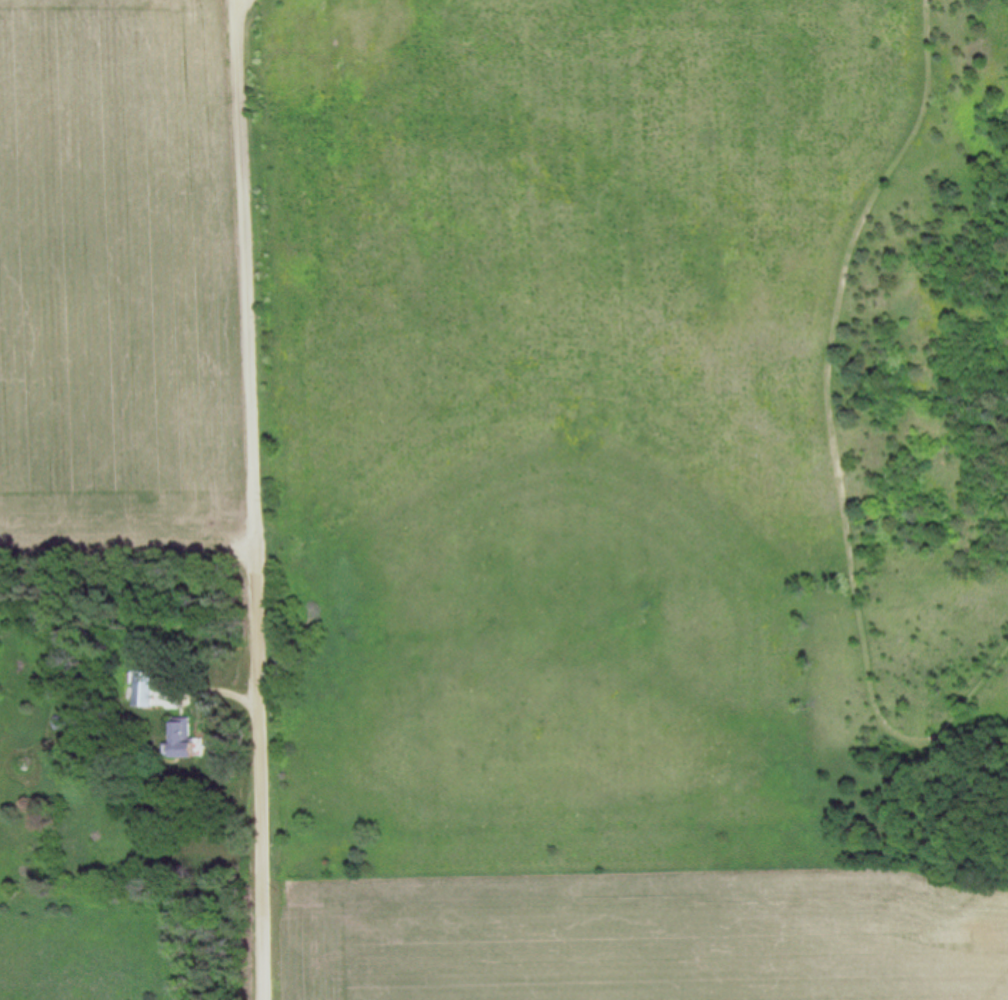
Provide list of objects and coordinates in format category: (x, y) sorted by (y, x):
road: (833, 375)
park: (628, 440)
road: (251, 499)
building: (144, 688)
road: (968, 705)
building: (181, 738)
road: (959, 795)

